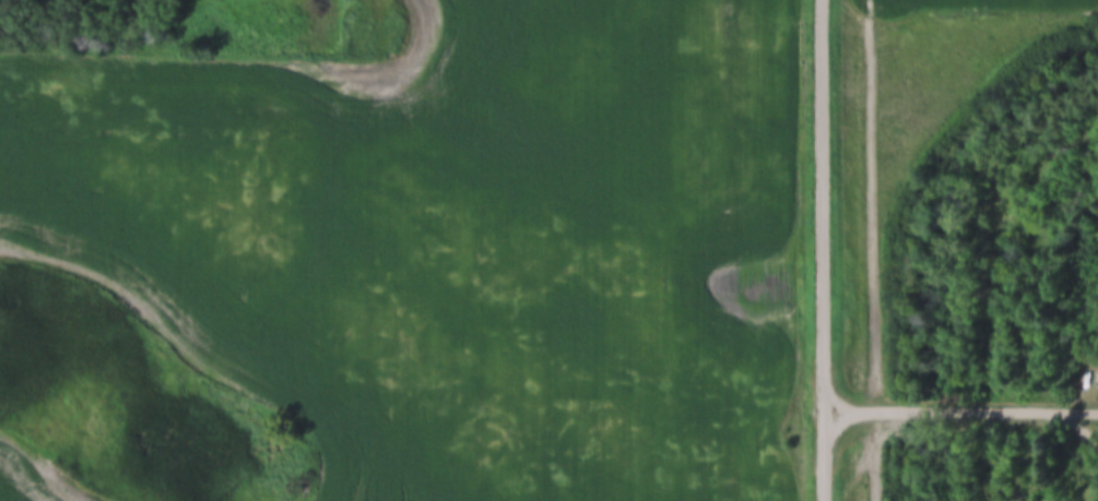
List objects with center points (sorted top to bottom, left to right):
road: (826, 250)
road: (961, 411)

